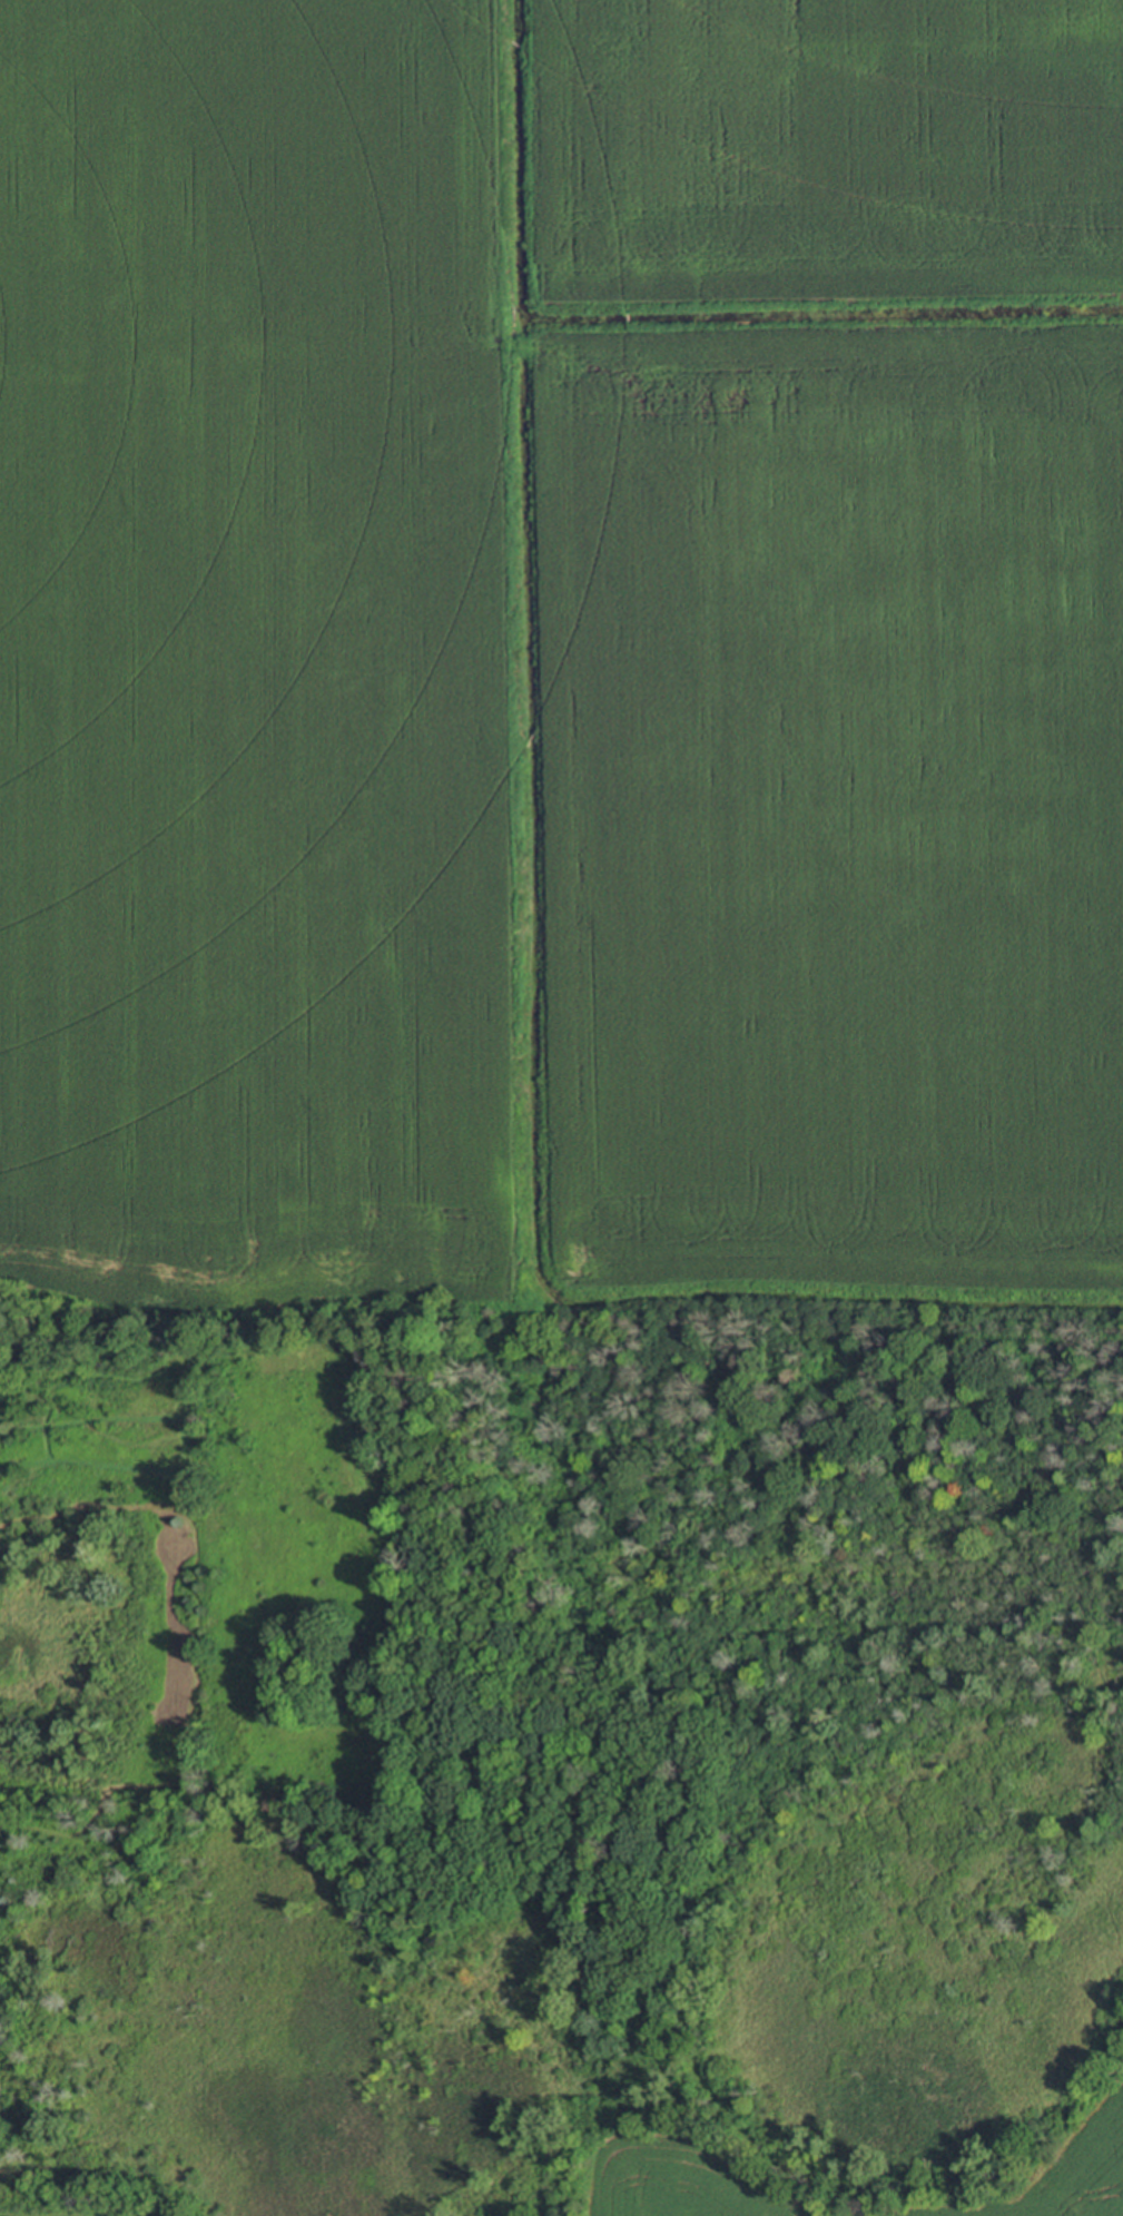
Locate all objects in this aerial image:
road: (189, 855)

